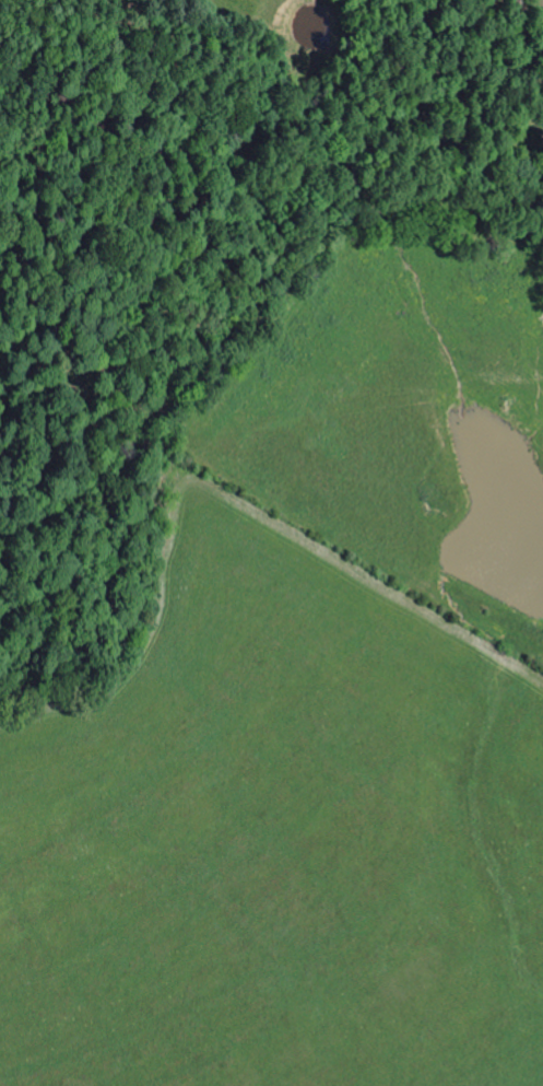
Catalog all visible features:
road: (520, 55)

